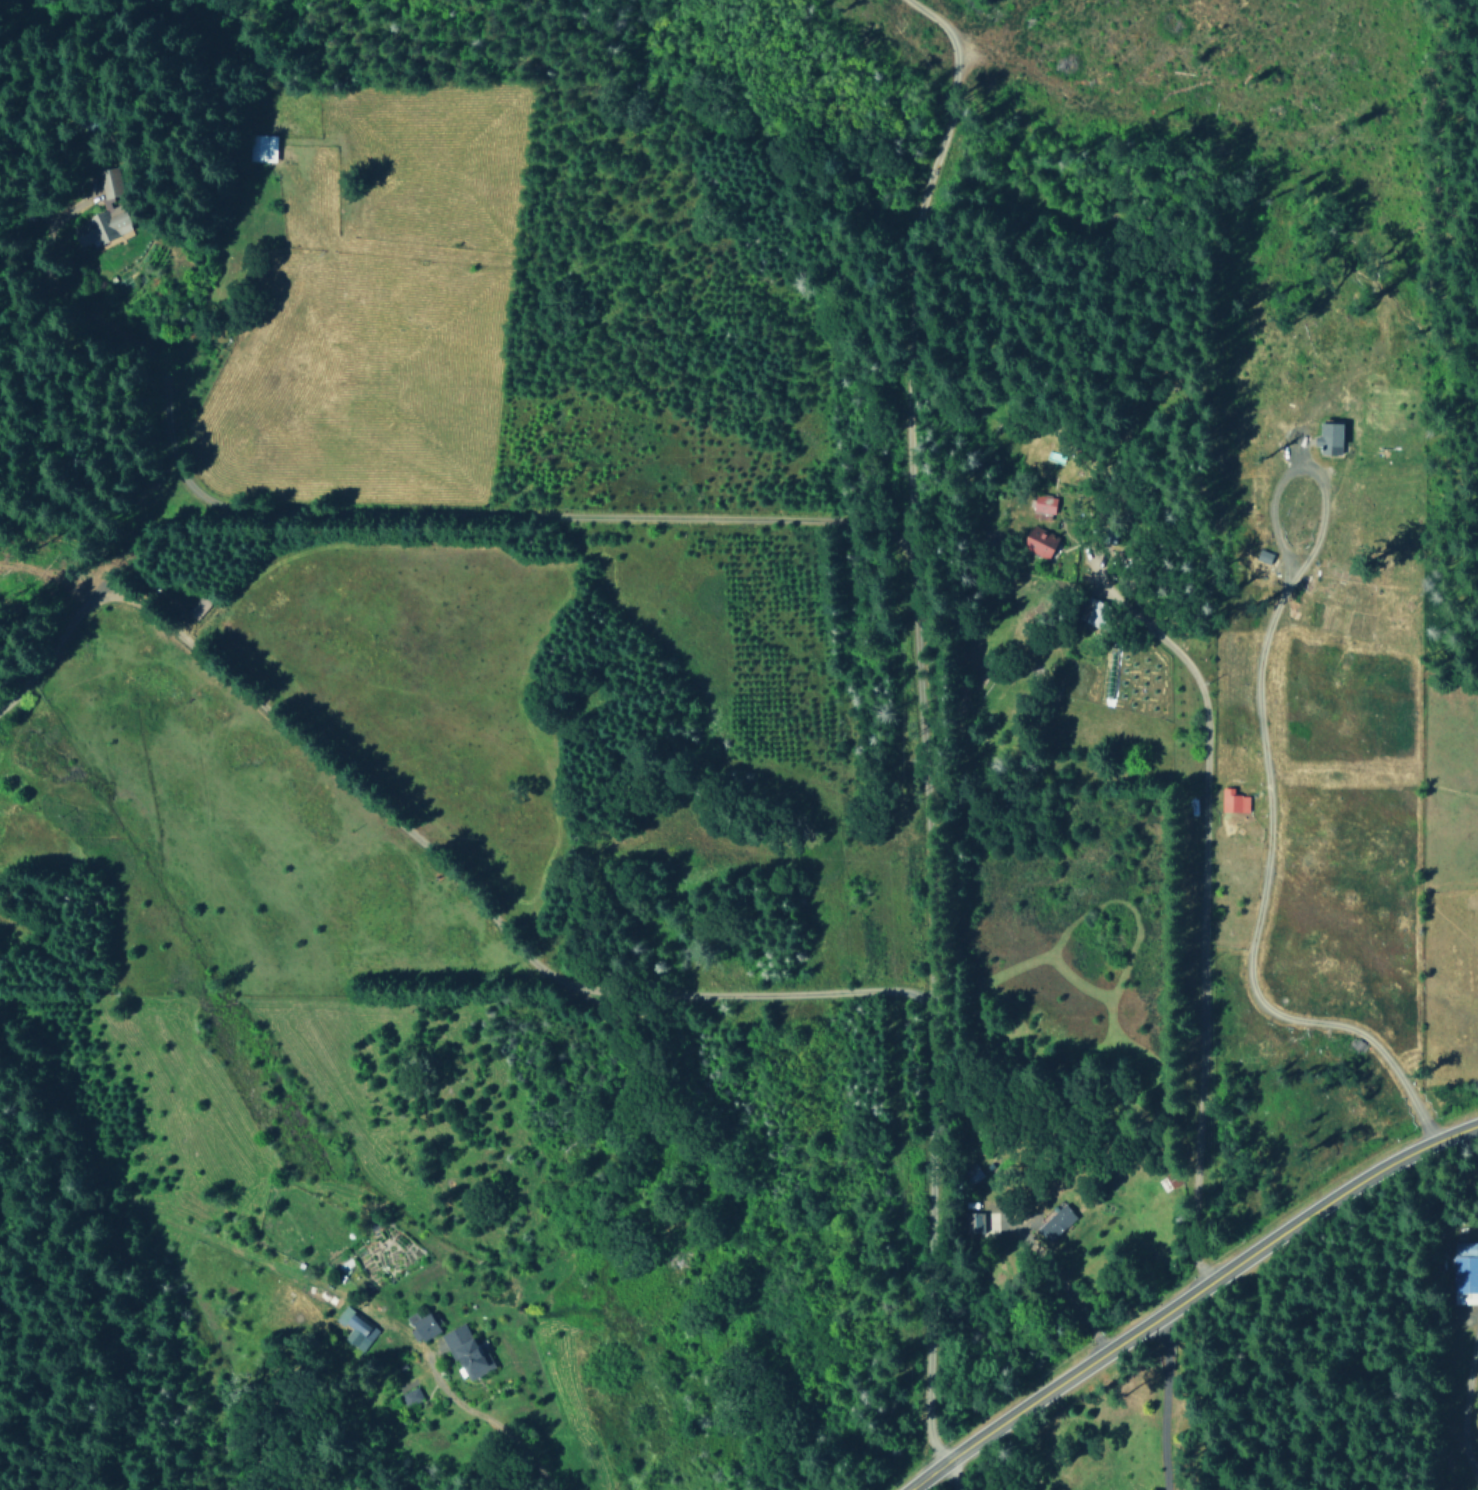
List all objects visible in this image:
building: (261, 147)
building: (104, 212)
building: (1328, 439)
building: (1043, 503)
building: (1039, 542)
building: (1095, 614)
road: (921, 724)
building: (1232, 801)
road: (432, 855)
road: (1201, 946)
building: (1168, 1180)
building: (977, 1222)
building: (1055, 1223)
building: (1465, 1272)
road: (1188, 1297)
building: (421, 1326)
building: (356, 1329)
building: (466, 1351)
road: (1372, 1380)
building: (410, 1396)
road: (951, 1477)

